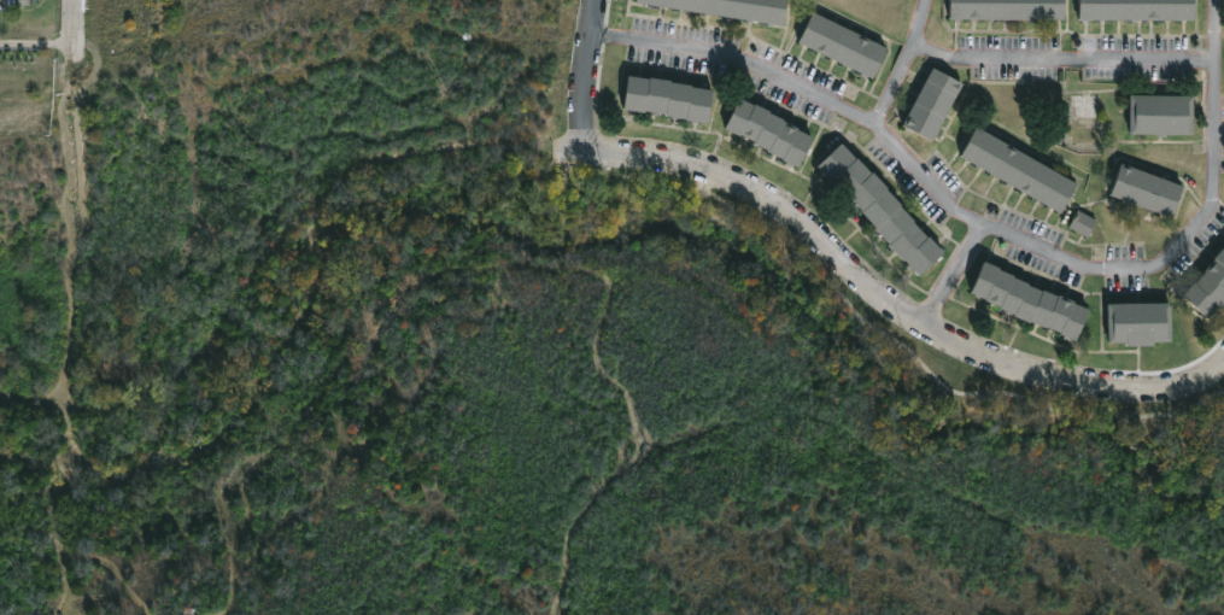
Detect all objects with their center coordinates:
building: (22, 1)
building: (734, 7)
building: (1008, 8)
building: (1137, 10)
road: (74, 23)
building: (842, 43)
road: (36, 45)
road: (1067, 59)
road: (584, 70)
road: (910, 70)
building: (667, 98)
building: (932, 104)
building: (1088, 105)
building: (1161, 115)
building: (769, 131)
building: (1020, 169)
building: (1148, 188)
building: (882, 209)
building: (1085, 224)
road: (996, 228)
road: (953, 274)
building: (1208, 288)
building: (1030, 301)
road: (890, 303)
building: (1140, 323)

